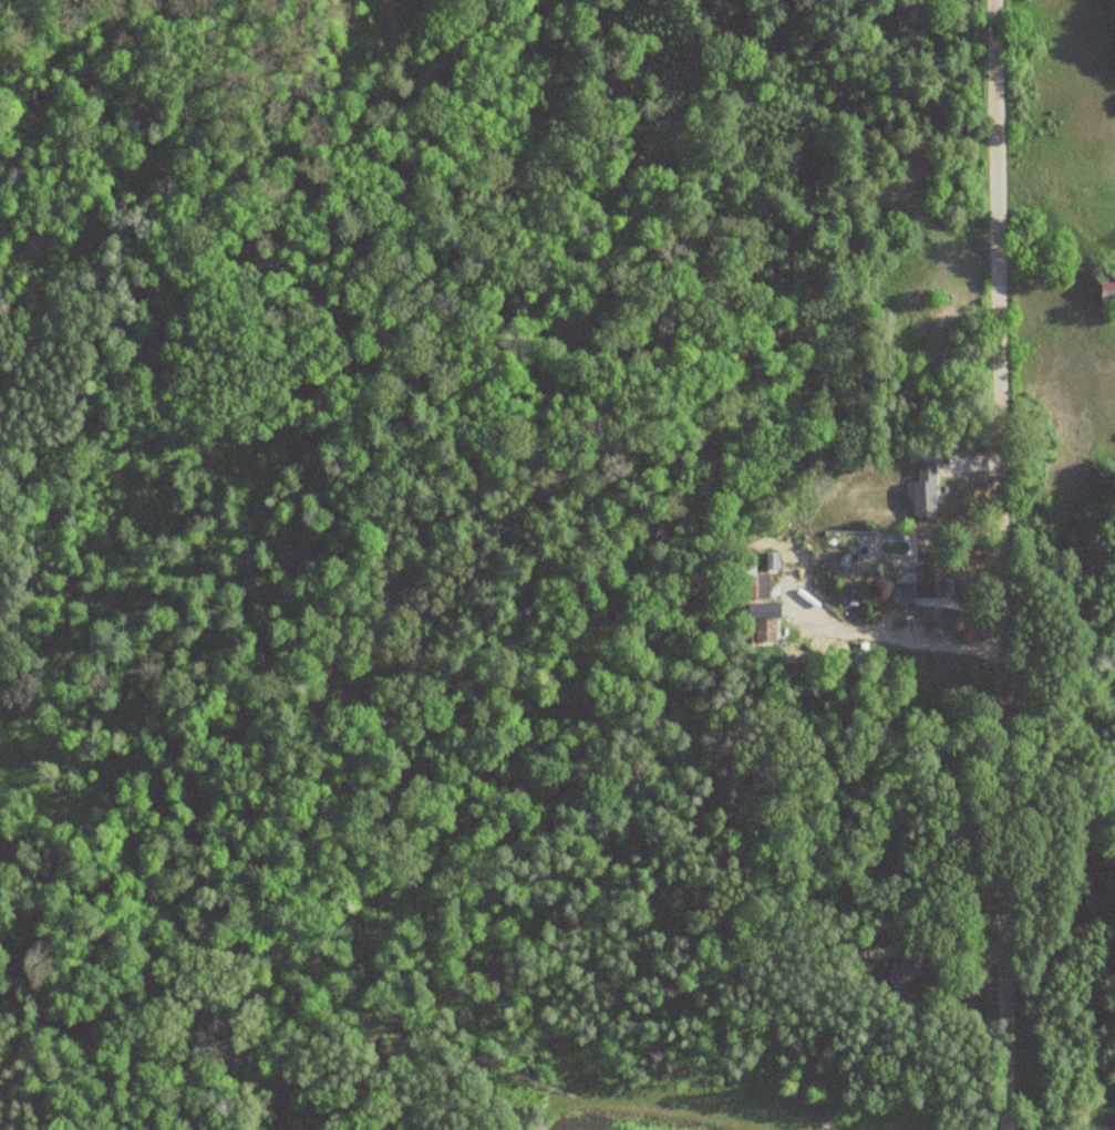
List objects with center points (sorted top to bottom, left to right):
building: (1105, 292)
building: (919, 494)
road: (995, 564)
building: (754, 587)
building: (920, 587)
building: (761, 626)
building: (906, 972)

